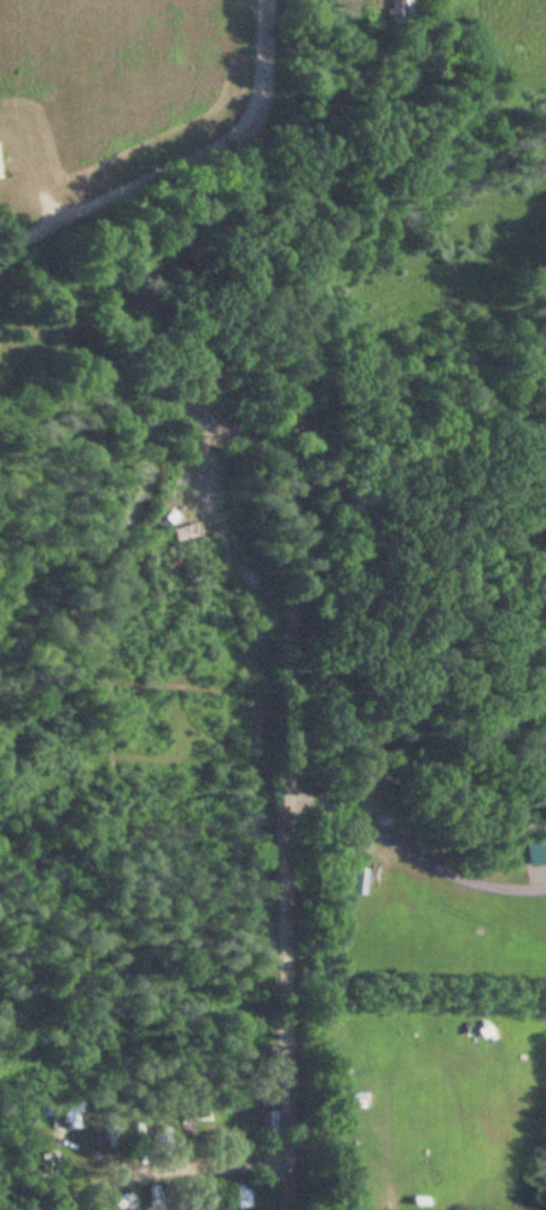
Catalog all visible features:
road: (192, 181)
road: (265, 685)
road: (402, 850)
building: (237, 1102)
building: (260, 1123)
building: (152, 1128)
road: (172, 1168)
building: (237, 1194)
building: (146, 1198)
road: (385, 1206)

